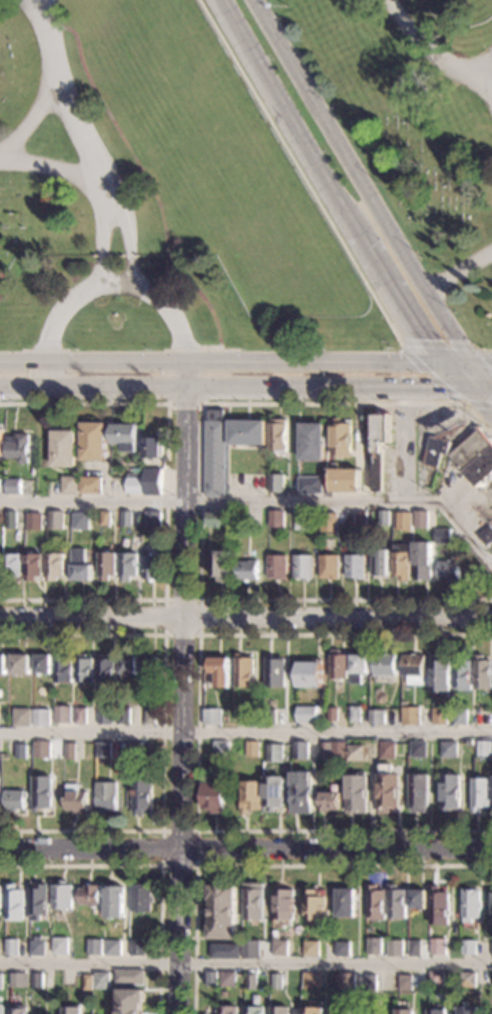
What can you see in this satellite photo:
road: (38, 4)
road: (425, 50)
road: (488, 61)
road: (488, 75)
road: (63, 101)
road: (30, 119)
park: (417, 125)
road: (56, 171)
road: (298, 171)
road: (359, 182)
road: (147, 183)
park: (154, 194)
road: (109, 199)
road: (329, 202)
road: (440, 279)
road: (99, 285)
building: (488, 317)
road: (405, 342)
road: (236, 361)
traffic signals: (472, 364)
road: (482, 365)
traffic signals: (432, 366)
road: (482, 374)
road: (246, 391)
road: (201, 392)
traffic signals: (462, 393)
road: (477, 404)
road: (477, 407)
building: (245, 433)
building: (276, 436)
building: (123, 437)
building: (339, 440)
building: (1, 441)
building: (91, 442)
building: (311, 442)
building: (378, 446)
building: (151, 447)
building: (18, 448)
building: (62, 448)
building: (435, 452)
building: (213, 455)
building: (475, 458)
building: (344, 481)
building: (249, 482)
building: (151, 483)
building: (274, 484)
building: (308, 485)
building: (69, 486)
building: (90, 486)
building: (14, 487)
building: (133, 487)
road: (200, 495)
road: (165, 500)
road: (260, 501)
building: (383, 518)
building: (105, 519)
building: (126, 519)
building: (217, 519)
building: (274, 519)
building: (11, 520)
building: (152, 520)
building: (420, 520)
building: (55, 521)
building: (301, 521)
building: (360, 521)
building: (402, 521)
building: (34, 522)
building: (81, 522)
building: (325, 522)
building: (485, 536)
building: (442, 537)
building: (421, 561)
building: (400, 562)
building: (379, 565)
building: (34, 566)
building: (107, 566)
building: (128, 566)
building: (12, 567)
building: (54, 567)
building: (80, 567)
building: (220, 567)
building: (276, 567)
building: (302, 567)
building: (328, 567)
building: (354, 567)
building: (150, 568)
building: (246, 571)
building: (447, 571)
road: (246, 618)
road: (198, 634)
building: (3, 665)
building: (20, 665)
building: (43, 665)
building: (127, 665)
building: (338, 665)
building: (384, 665)
building: (357, 668)
building: (63, 669)
building: (84, 669)
building: (413, 669)
building: (148, 670)
building: (243, 670)
building: (106, 671)
building: (219, 672)
building: (274, 672)
building: (309, 674)
building: (461, 674)
building: (482, 674)
building: (440, 675)
road: (180, 687)
building: (241, 713)
building: (331, 714)
building: (354, 714)
building: (27, 715)
building: (62, 715)
building: (306, 715)
building: (83, 716)
building: (460, 716)
building: (123, 717)
building: (146, 717)
building: (210, 717)
building: (270, 717)
building: (279, 717)
building: (409, 717)
building: (438, 717)
building: (39, 718)
building: (376, 718)
building: (481, 718)
building: (104, 719)
road: (162, 731)
road: (196, 733)
road: (245, 733)
building: (482, 748)
building: (41, 749)
building: (134, 749)
building: (251, 749)
building: (220, 750)
building: (324, 750)
building: (386, 750)
building: (418, 750)
building: (448, 750)
building: (70, 751)
building: (103, 751)
building: (299, 751)
building: (21, 752)
building: (272, 753)
building: (355, 753)
building: (0, 776)
building: (387, 789)
building: (450, 792)
building: (42, 793)
building: (272, 793)
building: (300, 793)
building: (418, 793)
building: (356, 794)
building: (480, 794)
building: (141, 796)
building: (106, 797)
building: (212, 797)
building: (250, 797)
building: (75, 799)
building: (14, 800)
building: (328, 801)
road: (195, 831)
road: (246, 850)
road: (154, 865)
road: (269, 865)
building: (61, 896)
building: (89, 896)
building: (0, 898)
building: (140, 899)
building: (416, 900)
building: (251, 901)
building: (37, 902)
building: (114, 902)
building: (395, 902)
building: (13, 903)
building: (345, 903)
building: (374, 903)
building: (469, 905)
building: (313, 906)
building: (282, 907)
building: (438, 907)
building: (221, 913)
building: (59, 946)
building: (372, 947)
building: (436, 947)
building: (10, 948)
building: (36, 948)
building: (93, 948)
building: (112, 948)
building: (136, 948)
building: (278, 948)
building: (310, 948)
building: (467, 948)
building: (491, 948)
building: (341, 949)
building: (394, 949)
building: (413, 949)
building: (249, 950)
building: (224, 951)
road: (246, 963)
building: (128, 977)
building: (210, 979)
building: (226, 979)
building: (491, 979)
building: (14, 980)
building: (435, 980)
building: (467, 980)
building: (36, 981)
building: (101, 981)
building: (311, 981)
building: (0, 982)
building: (87, 982)
building: (250, 982)
building: (276, 982)
building: (344, 982)
building: (370, 982)
building: (404, 983)
building: (129, 1001)
building: (2, 1009)
building: (18, 1010)
building: (227, 1010)
building: (253, 1010)
building: (279, 1010)
building: (312, 1010)
building: (468, 1010)
building: (70, 1011)
building: (342, 1012)
building: (404, 1012)
building: (436, 1012)

